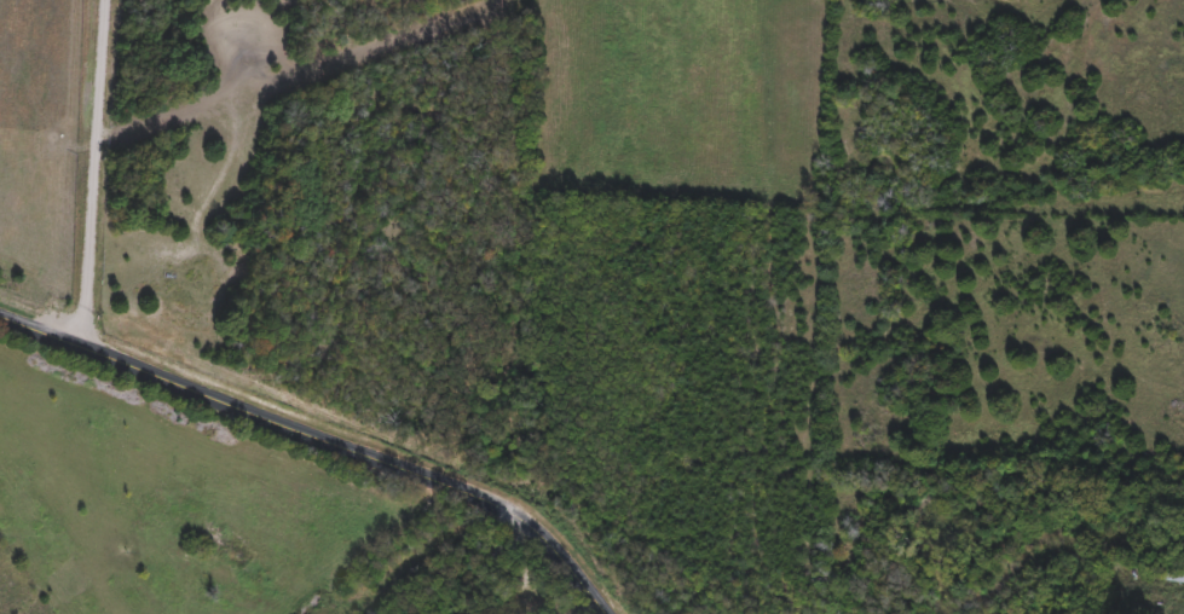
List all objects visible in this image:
road: (96, 173)
road: (322, 435)
building: (1174, 574)
road: (554, 589)
road: (458, 601)

